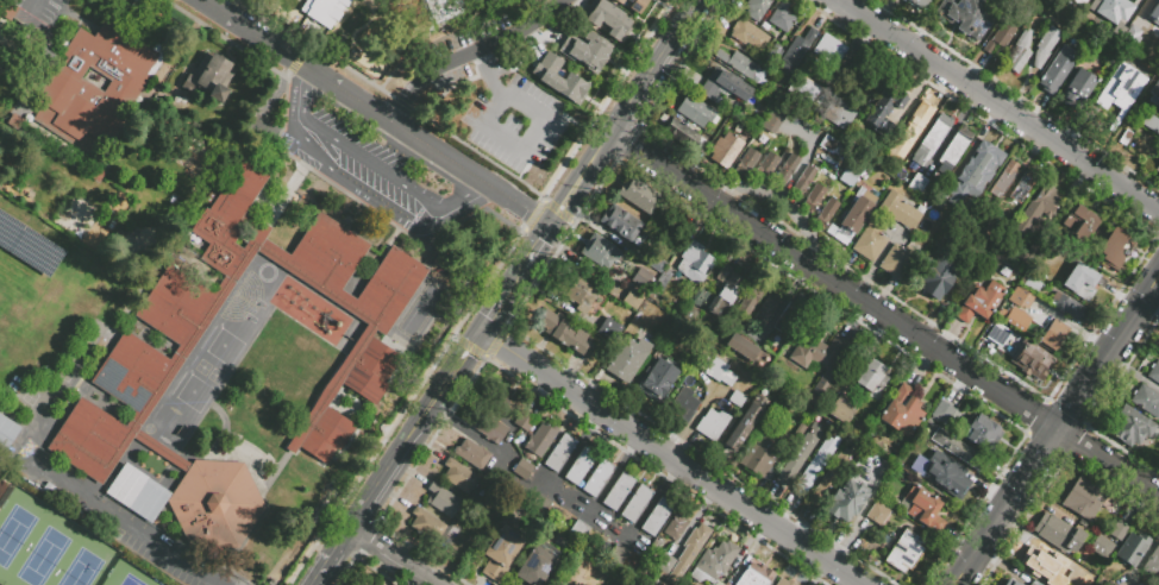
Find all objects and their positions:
building: (1126, 1)
building: (1098, 2)
building: (917, 4)
road: (32, 5)
building: (633, 5)
building: (1077, 6)
parking lot: (39, 8)
building: (440, 8)
building: (1094, 8)
building: (322, 10)
building: (759, 10)
building: (941, 10)
building: (965, 10)
building: (1157, 11)
building: (8, 12)
building: (1158, 18)
building: (783, 20)
building: (609, 21)
building: (1065, 21)
parking lot: (493, 25)
building: (982, 31)
building: (1114, 31)
building: (1088, 34)
building: (751, 38)
building: (1000, 40)
road: (312, 45)
building: (1046, 48)
building: (832, 50)
building: (588, 51)
road: (468, 54)
building: (796, 55)
building: (1021, 55)
building: (1151, 56)
building: (776, 57)
road: (499, 59)
road: (654, 65)
building: (743, 69)
building: (1050, 76)
parking lot: (455, 78)
building: (866, 78)
building: (562, 80)
building: (212, 82)
building: (1111, 82)
building: (725, 87)
building: (98, 88)
building: (804, 93)
building: (1155, 93)
building: (1075, 94)
road: (299, 96)
building: (889, 96)
road: (401, 105)
road: (1000, 105)
road: (376, 112)
building: (696, 113)
building: (1114, 114)
parking lot: (512, 115)
building: (840, 115)
building: (775, 120)
building: (872, 124)
building: (15, 125)
building: (1151, 125)
building: (719, 128)
building: (913, 133)
building: (751, 134)
building: (1144, 134)
road: (503, 137)
building: (687, 138)
building: (934, 139)
building: (1126, 140)
building: (829, 147)
building: (726, 152)
building: (954, 152)
building: (1158, 156)
building: (747, 164)
building: (992, 165)
building: (768, 169)
parking lot: (365, 172)
building: (788, 172)
building: (1158, 172)
building: (856, 174)
road: (364, 175)
road: (582, 178)
building: (960, 181)
building: (1005, 182)
building: (804, 183)
building: (919, 187)
building: (1023, 189)
building: (640, 197)
building: (814, 201)
road: (464, 205)
building: (900, 214)
building: (827, 215)
building: (1035, 215)
building: (856, 218)
building: (621, 226)
building: (1082, 226)
traffic signals: (552, 227)
building: (985, 229)
building: (871, 245)
road: (538, 249)
building: (1051, 249)
building: (982, 253)
building: (1117, 253)
building: (601, 254)
building: (1029, 254)
building: (1047, 254)
building: (898, 263)
building: (695, 265)
building: (351, 275)
building: (643, 281)
building: (939, 281)
road: (516, 282)
road: (1154, 283)
building: (662, 284)
building: (1083, 284)
building: (1032, 287)
road: (477, 291)
building: (578, 294)
building: (726, 294)
building: (1005, 296)
building: (634, 301)
building: (702, 301)
building: (750, 304)
building: (977, 304)
building: (1071, 310)
road: (496, 313)
building: (768, 313)
road: (884, 315)
building: (1038, 316)
building: (691, 319)
building: (1015, 320)
building: (789, 321)
building: (609, 332)
building: (165, 333)
traffic signals: (484, 333)
building: (568, 336)
building: (998, 336)
building: (1055, 338)
building: (700, 340)
building: (1011, 342)
road: (508, 348)
building: (744, 350)
building: (1158, 353)
building: (690, 357)
building: (629, 361)
building: (820, 361)
building: (1034, 364)
building: (718, 373)
building: (1155, 375)
building: (872, 379)
building: (654, 386)
building: (368, 391)
road: (445, 392)
building: (738, 402)
building: (1146, 402)
building: (500, 404)
building: (684, 409)
building: (941, 411)
building: (845, 414)
building: (904, 414)
building: (751, 420)
building: (525, 423)
building: (713, 427)
building: (1132, 428)
building: (491, 430)
building: (6, 432)
road: (1052, 434)
building: (989, 438)
building: (541, 442)
building: (961, 453)
building: (560, 455)
building: (474, 457)
building: (766, 457)
building: (800, 457)
building: (921, 461)
building: (581, 468)
building: (816, 468)
building: (525, 472)
road: (696, 474)
building: (461, 478)
building: (833, 478)
building: (599, 480)
building: (956, 485)
road: (380, 492)
building: (906, 492)
building: (620, 495)
building: (67, 497)
building: (847, 502)
building: (1085, 502)
building: (444, 503)
building: (218, 507)
building: (541, 507)
building: (638, 507)
building: (936, 509)
building: (879, 511)
road: (123, 516)
building: (658, 520)
building: (428, 527)
building: (677, 528)
building: (1115, 530)
building: (579, 533)
building: (1059, 535)
building: (697, 541)
park: (49, 546)
building: (1103, 549)
building: (1133, 551)
building: (906, 554)
building: (502, 555)
road: (334, 558)
road: (394, 558)
building: (618, 558)
building: (715, 565)
building: (1042, 565)
building: (539, 566)
building: (666, 566)
building: (1153, 567)
park: (129, 575)
park: (590, 575)
building: (758, 577)
building: (1085, 579)
building: (784, 583)
road: (956, 583)
building: (1009, 583)
building: (1029, 584)
building: (1110, 584)
building: (1139, 584)

